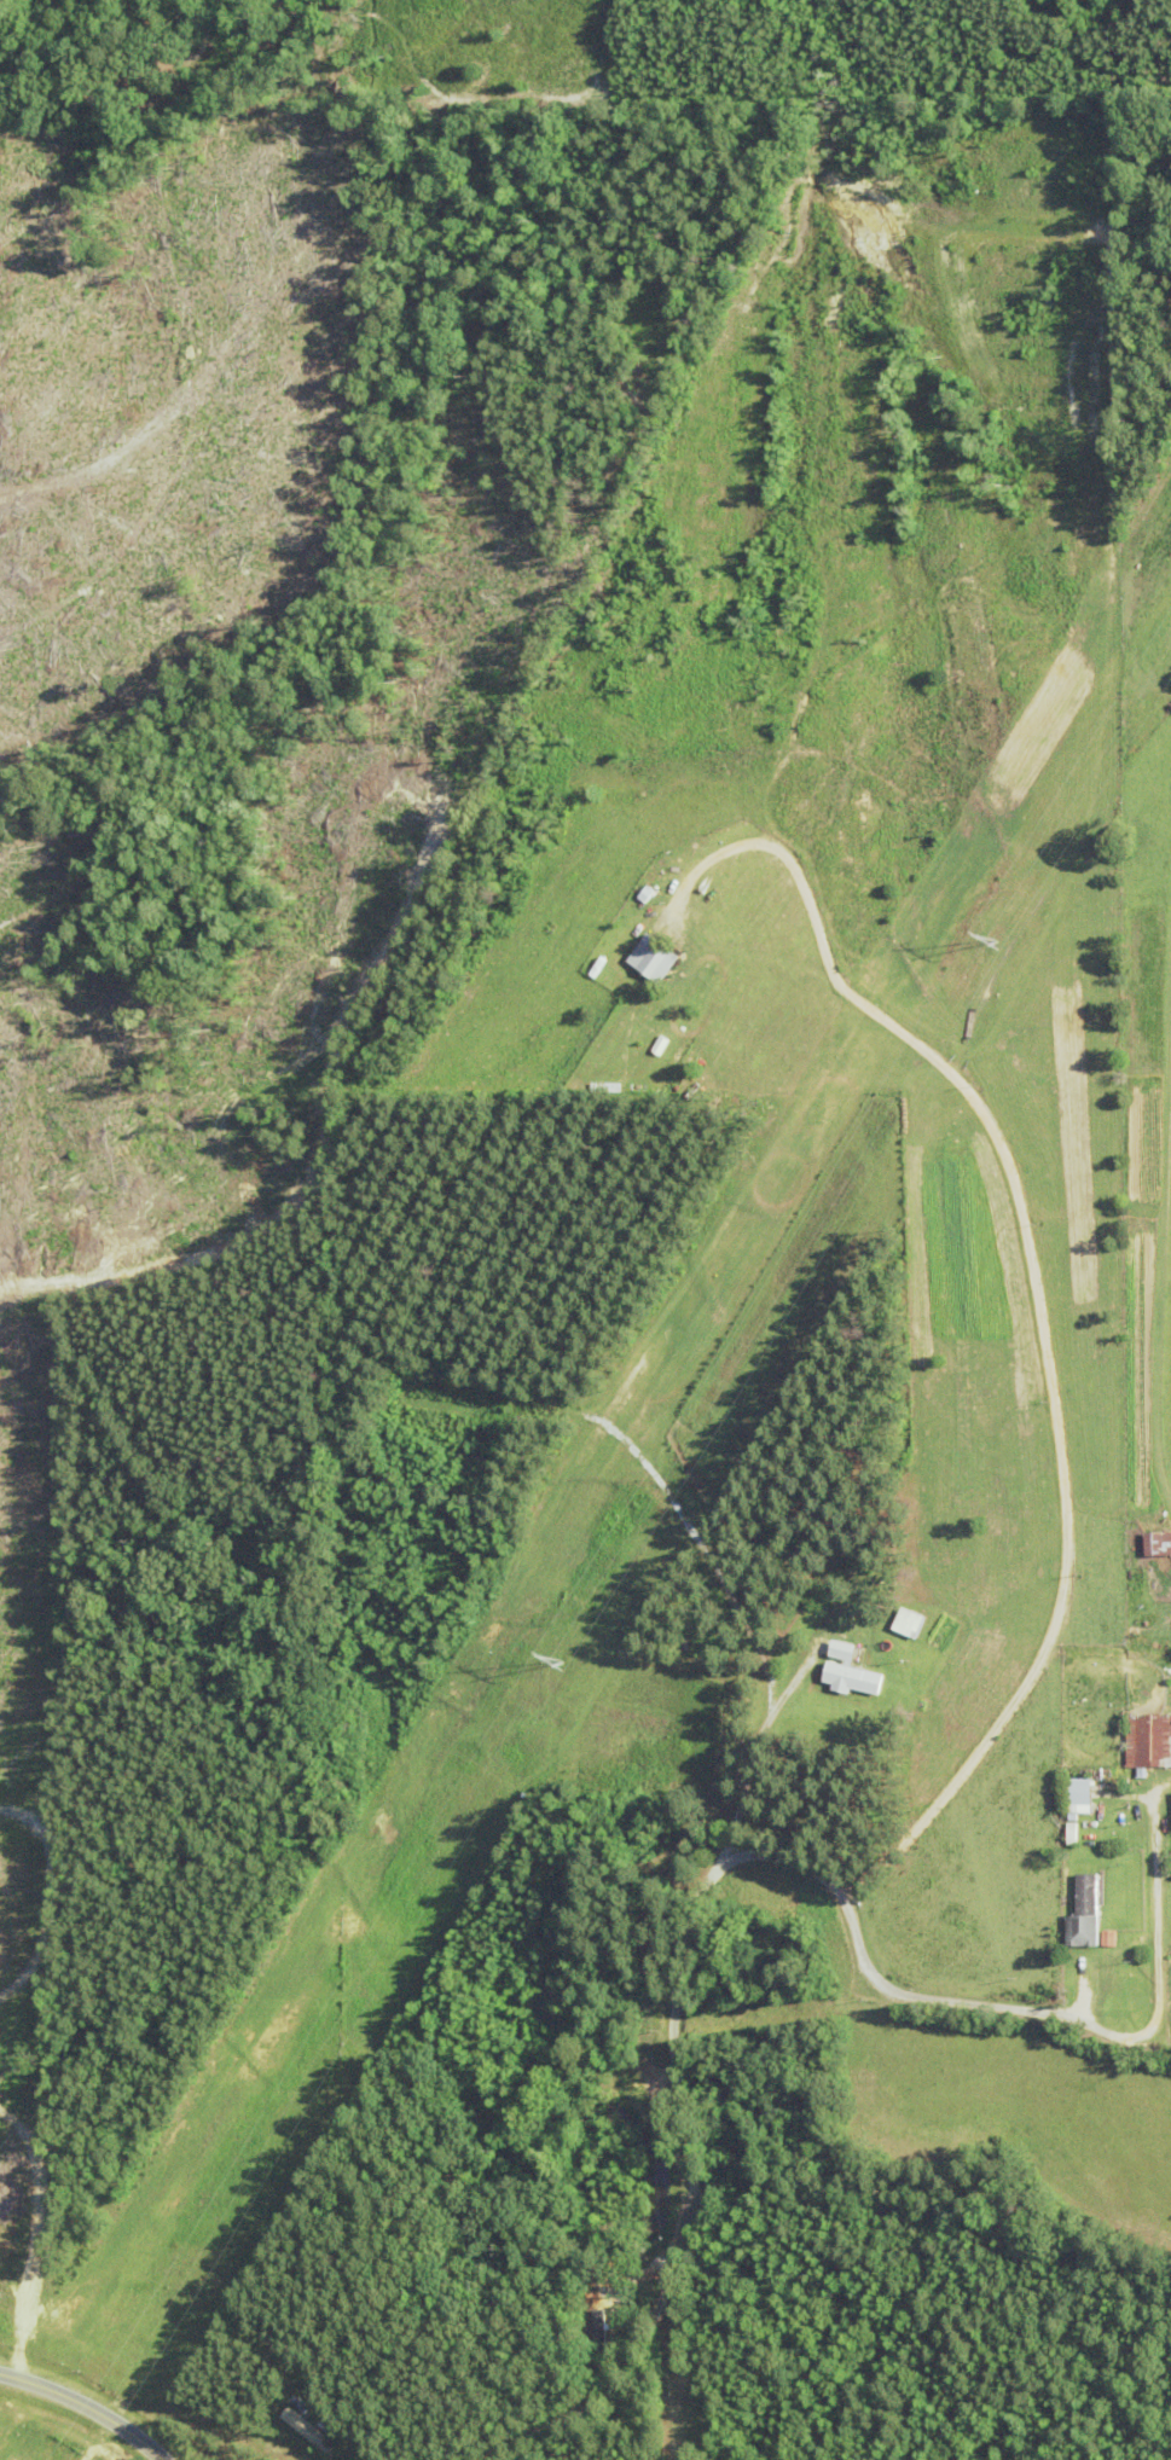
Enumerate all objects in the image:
power tower: (999, 940)
building: (655, 958)
raceway: (1169, 1400)
building: (1159, 1544)
building: (910, 1621)
power tower: (564, 1659)
building: (851, 1671)
building: (1149, 1739)
road: (755, 1750)
building: (1080, 1794)
road: (749, 1855)
building: (1086, 1913)
road: (86, 2406)
building: (307, 2430)

